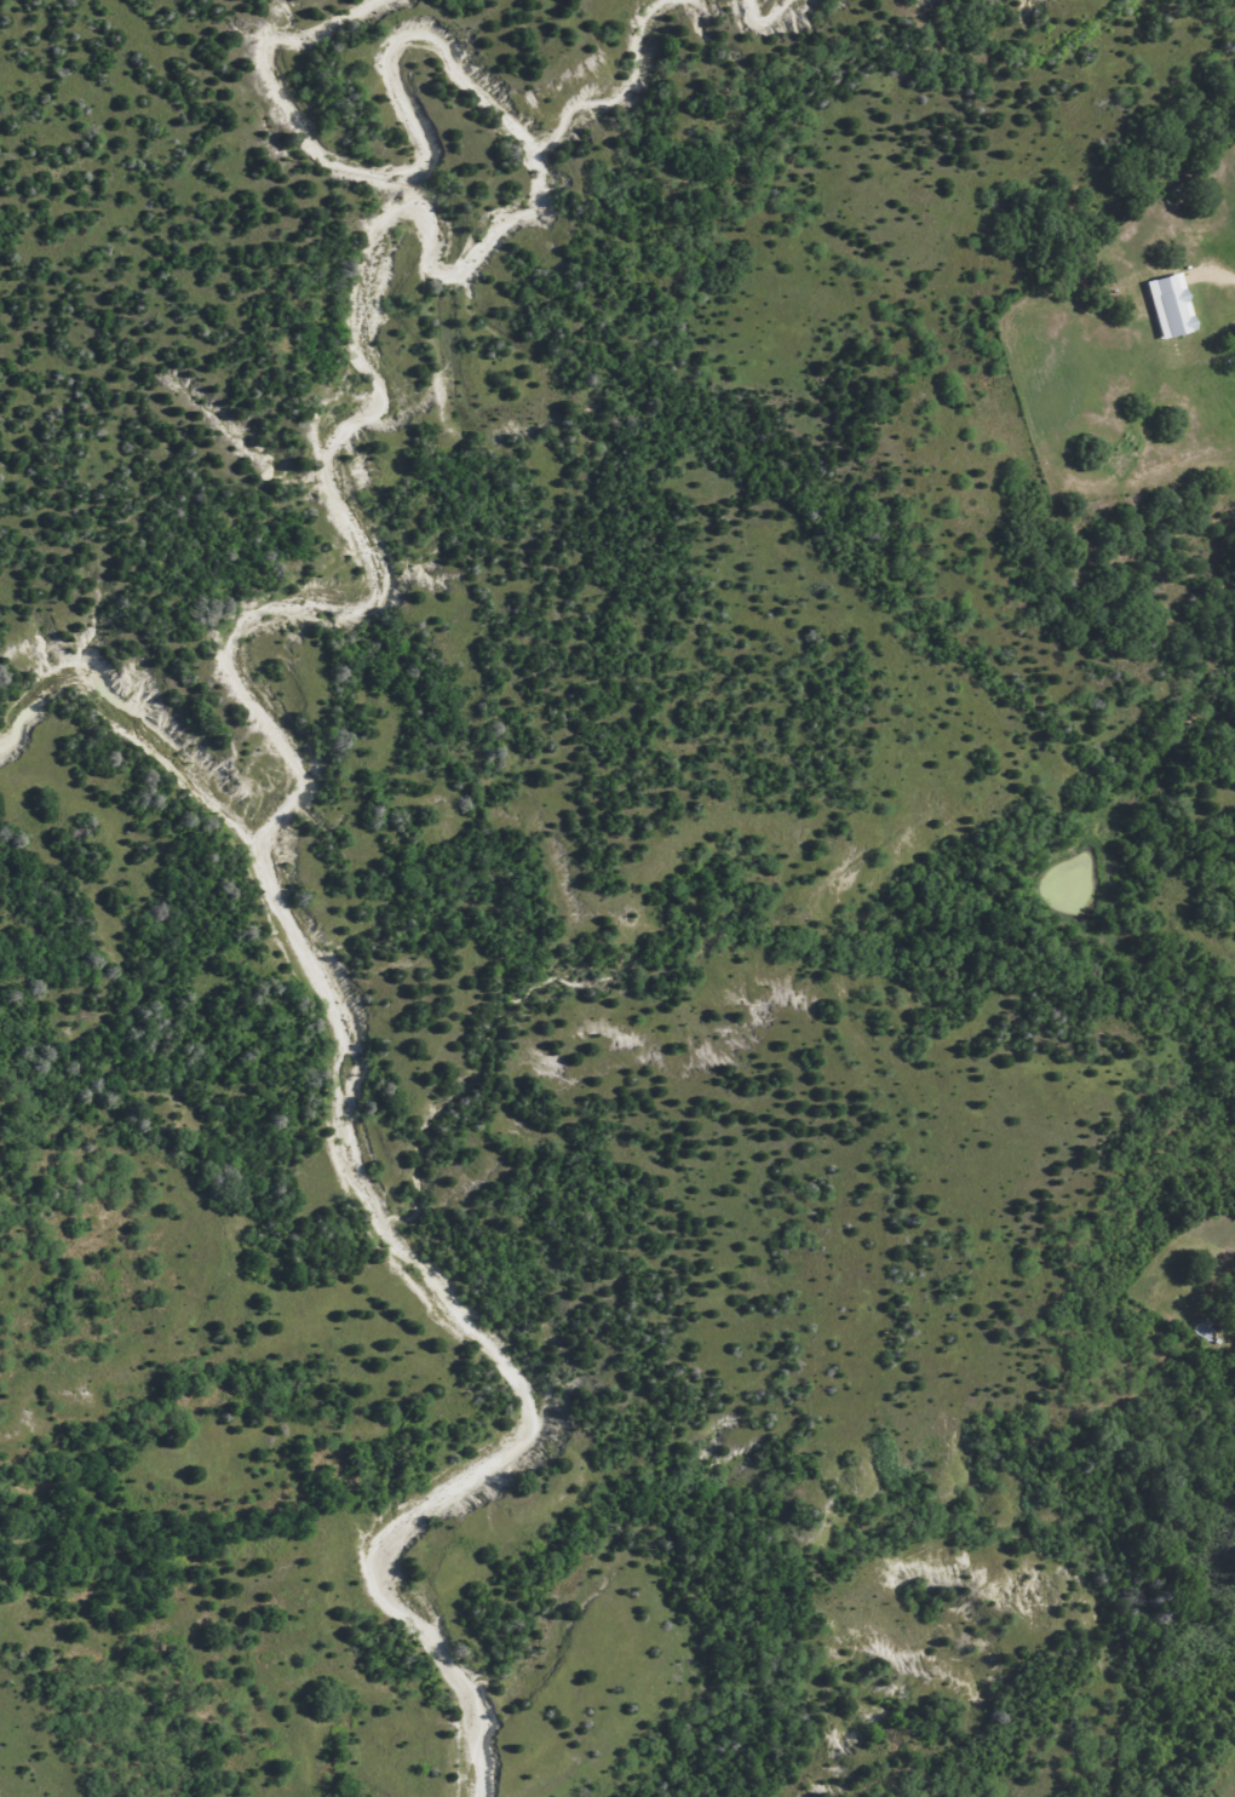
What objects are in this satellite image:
road: (1223, 281)

